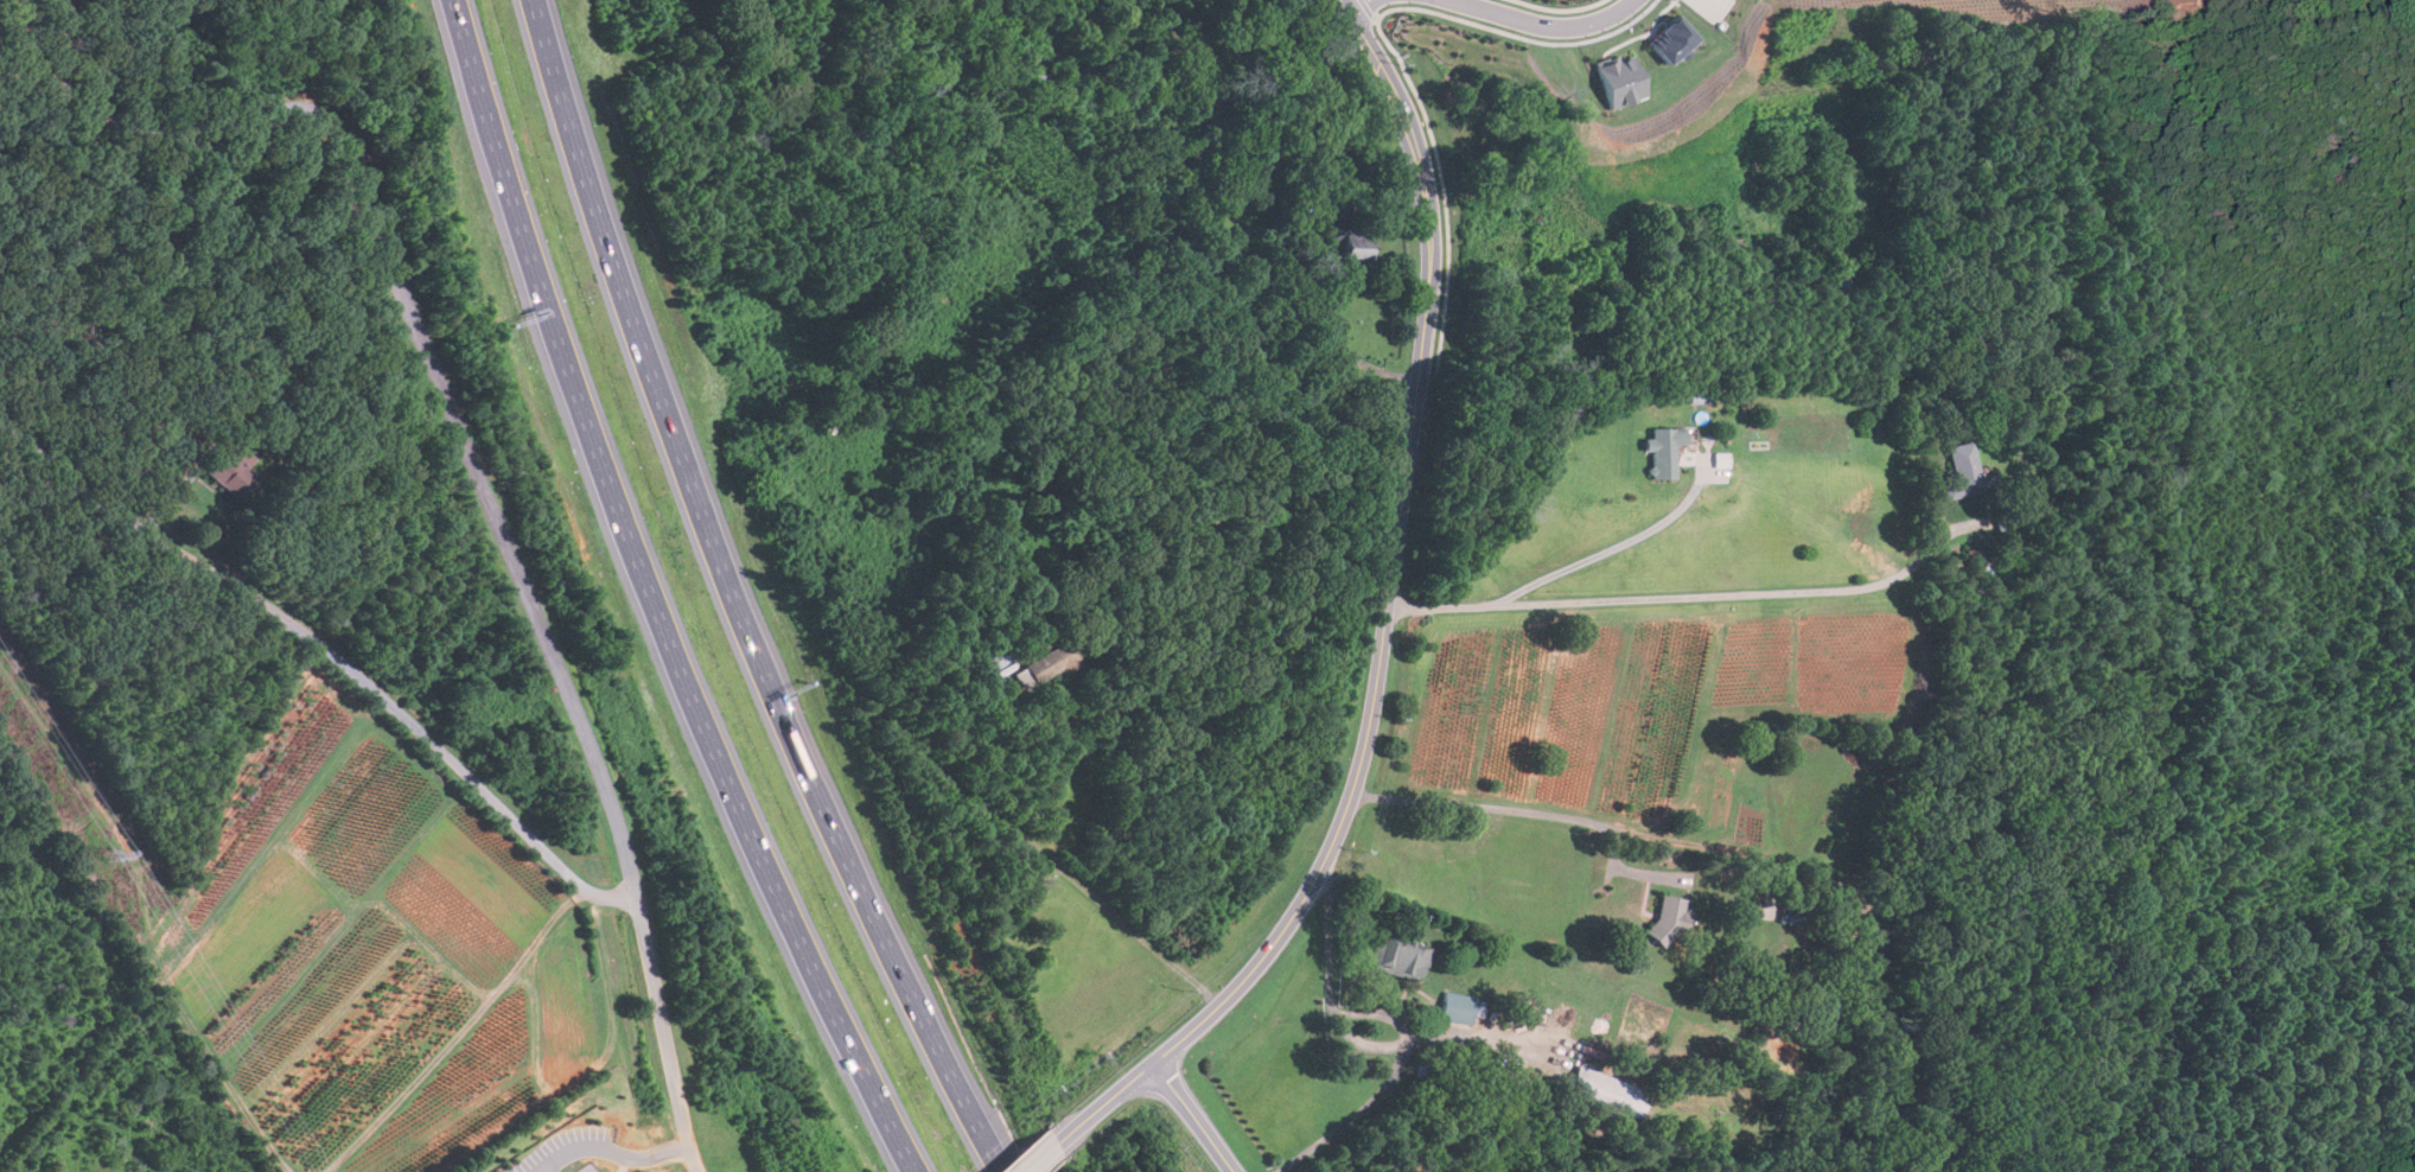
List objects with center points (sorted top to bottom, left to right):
road: (1352, 5)
road: (1548, 19)
building: (1675, 40)
building: (1623, 81)
building: (1357, 246)
road: (1327, 266)
road: (419, 336)
building: (1664, 450)
building: (231, 470)
building: (1965, 473)
road: (1616, 547)
building: (1975, 555)
road: (1667, 593)
road: (655, 598)
road: (737, 599)
road: (1390, 614)
road: (329, 650)
building: (993, 658)
building: (1056, 662)
road: (1519, 808)
power tower: (111, 854)
building: (1789, 915)
building: (1669, 917)
building: (1398, 957)
road: (1327, 987)
building: (1457, 1007)
road: (663, 1025)
road: (1368, 1044)
road: (1379, 1093)
building: (1606, 1093)
road: (1196, 1116)
parking lot: (569, 1149)
road: (616, 1152)
road: (1044, 1155)
road: (693, 1159)

